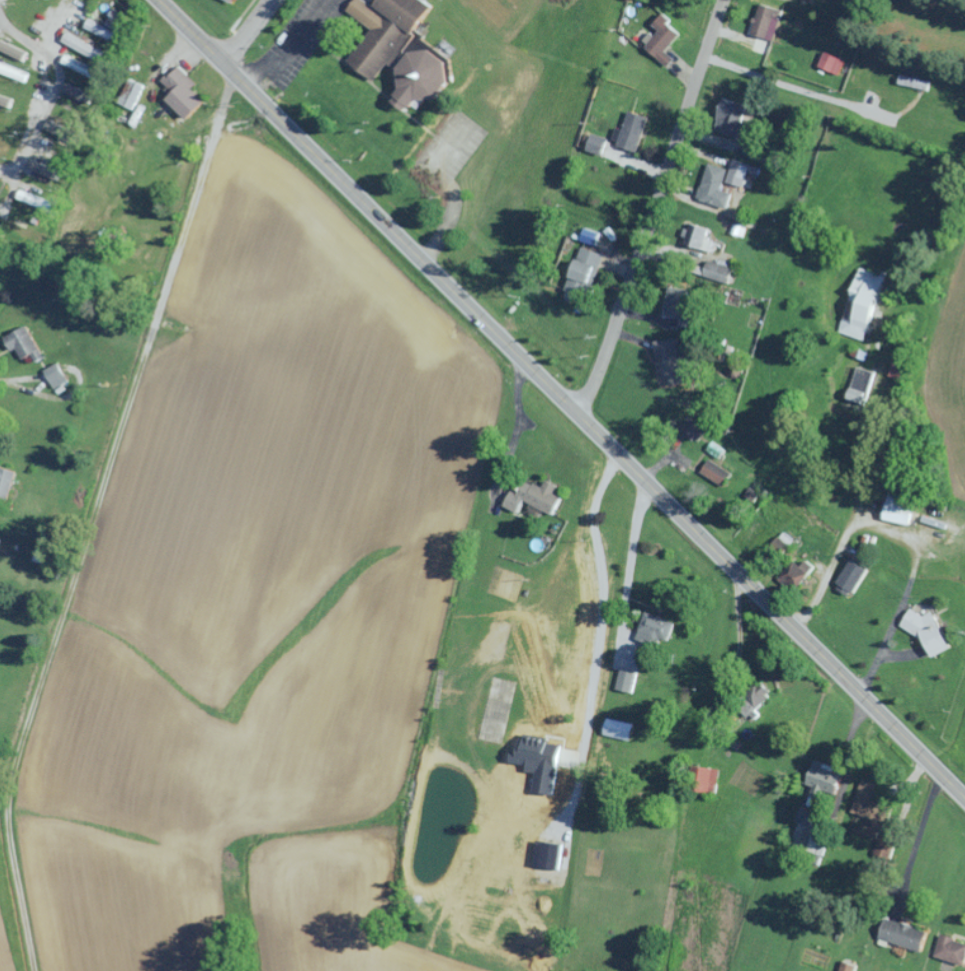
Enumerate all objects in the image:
building: (231, 1)
road: (30, 12)
building: (769, 24)
building: (110, 30)
road: (249, 32)
building: (663, 39)
building: (401, 49)
building: (83, 71)
building: (13, 74)
building: (920, 85)
road: (74, 88)
building: (183, 94)
building: (79, 96)
building: (8, 104)
building: (8, 127)
building: (635, 133)
building: (63, 134)
building: (3, 152)
building: (725, 184)
building: (0, 185)
road: (655, 209)
building: (701, 238)
building: (589, 266)
building: (722, 274)
building: (864, 305)
building: (28, 346)
building: (59, 378)
building: (861, 387)
road: (561, 399)
building: (7, 485)
building: (534, 499)
building: (903, 509)
road: (874, 532)
building: (781, 549)
building: (796, 578)
building: (855, 580)
building: (512, 589)
building: (658, 629)
building: (931, 633)
building: (626, 683)
building: (621, 731)
building: (830, 780)
building: (713, 782)
building: (552, 857)
building: (907, 936)
building: (953, 950)

